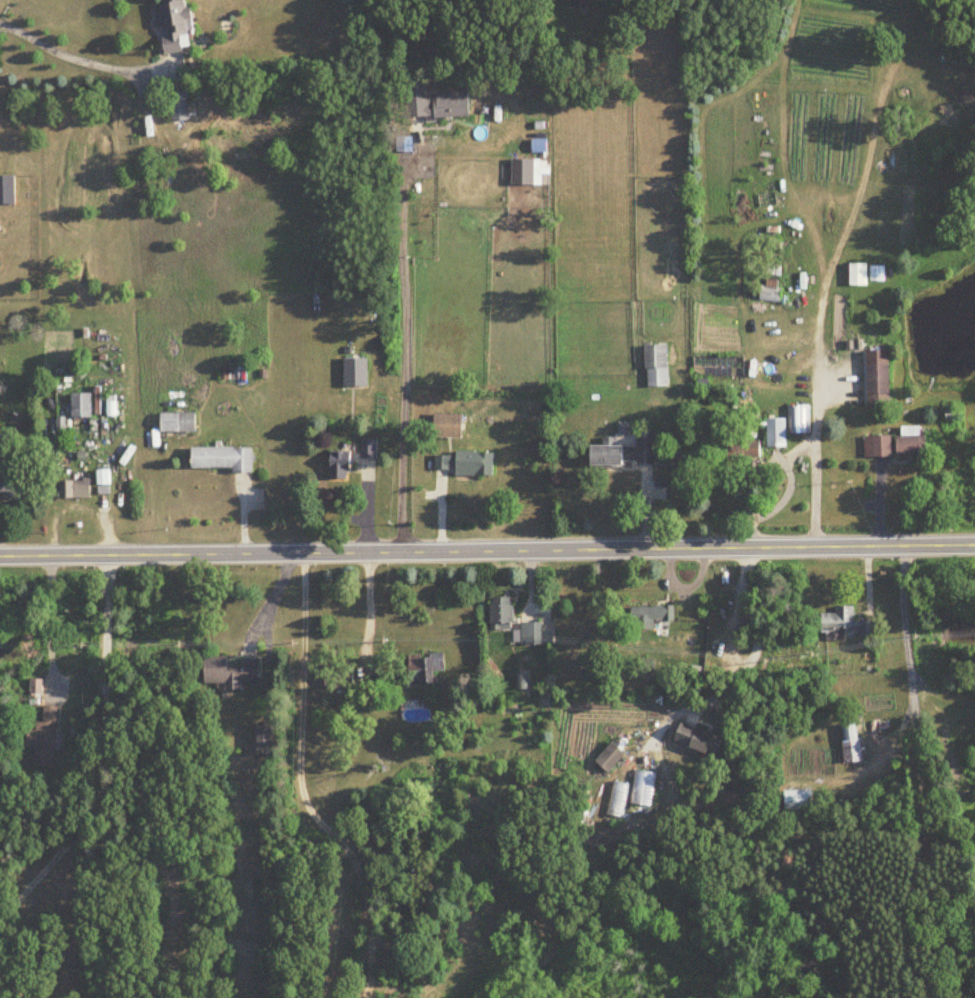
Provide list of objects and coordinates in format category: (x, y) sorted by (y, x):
building: (176, 25)
road: (84, 60)
building: (434, 103)
building: (181, 107)
building: (525, 172)
building: (8, 191)
building: (878, 274)
building: (859, 275)
building: (772, 296)
road: (409, 347)
building: (658, 366)
building: (357, 374)
building: (880, 380)
building: (83, 406)
building: (800, 420)
building: (179, 424)
building: (449, 427)
building: (778, 433)
building: (899, 445)
building: (369, 450)
road: (814, 450)
building: (628, 454)
building: (224, 460)
building: (466, 465)
building: (341, 466)
road: (754, 480)
building: (11, 487)
building: (77, 490)
road: (787, 497)
road: (487, 552)
road: (371, 611)
building: (502, 614)
building: (651, 616)
building: (846, 623)
building: (531, 633)
road: (755, 643)
building: (428, 670)
building: (234, 672)
building: (340, 680)
road: (33, 736)
building: (696, 737)
building: (45, 738)
building: (267, 740)
building: (852, 742)
building: (611, 758)
road: (109, 777)
road: (902, 780)
road: (303, 787)
building: (798, 799)
building: (619, 800)
road: (55, 853)
road: (940, 863)

